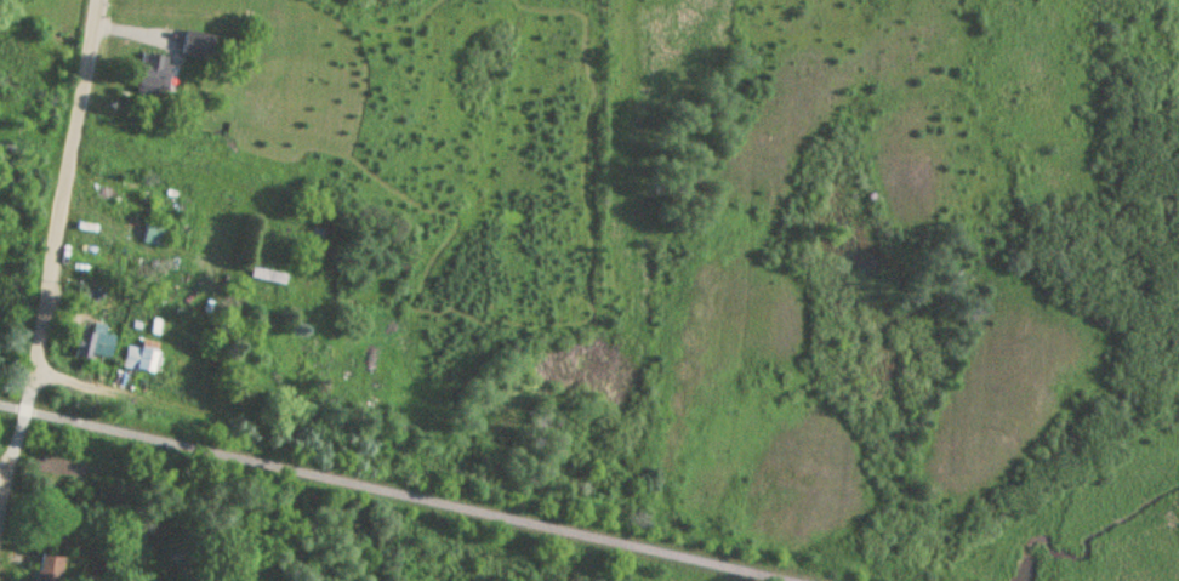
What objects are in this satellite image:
building: (156, 76)
road: (65, 194)
building: (154, 232)
building: (268, 277)
building: (95, 338)
building: (139, 358)
road: (81, 385)
road: (178, 405)
road: (22, 420)
road: (5, 475)
road: (1, 488)
road: (392, 494)
building: (49, 566)

